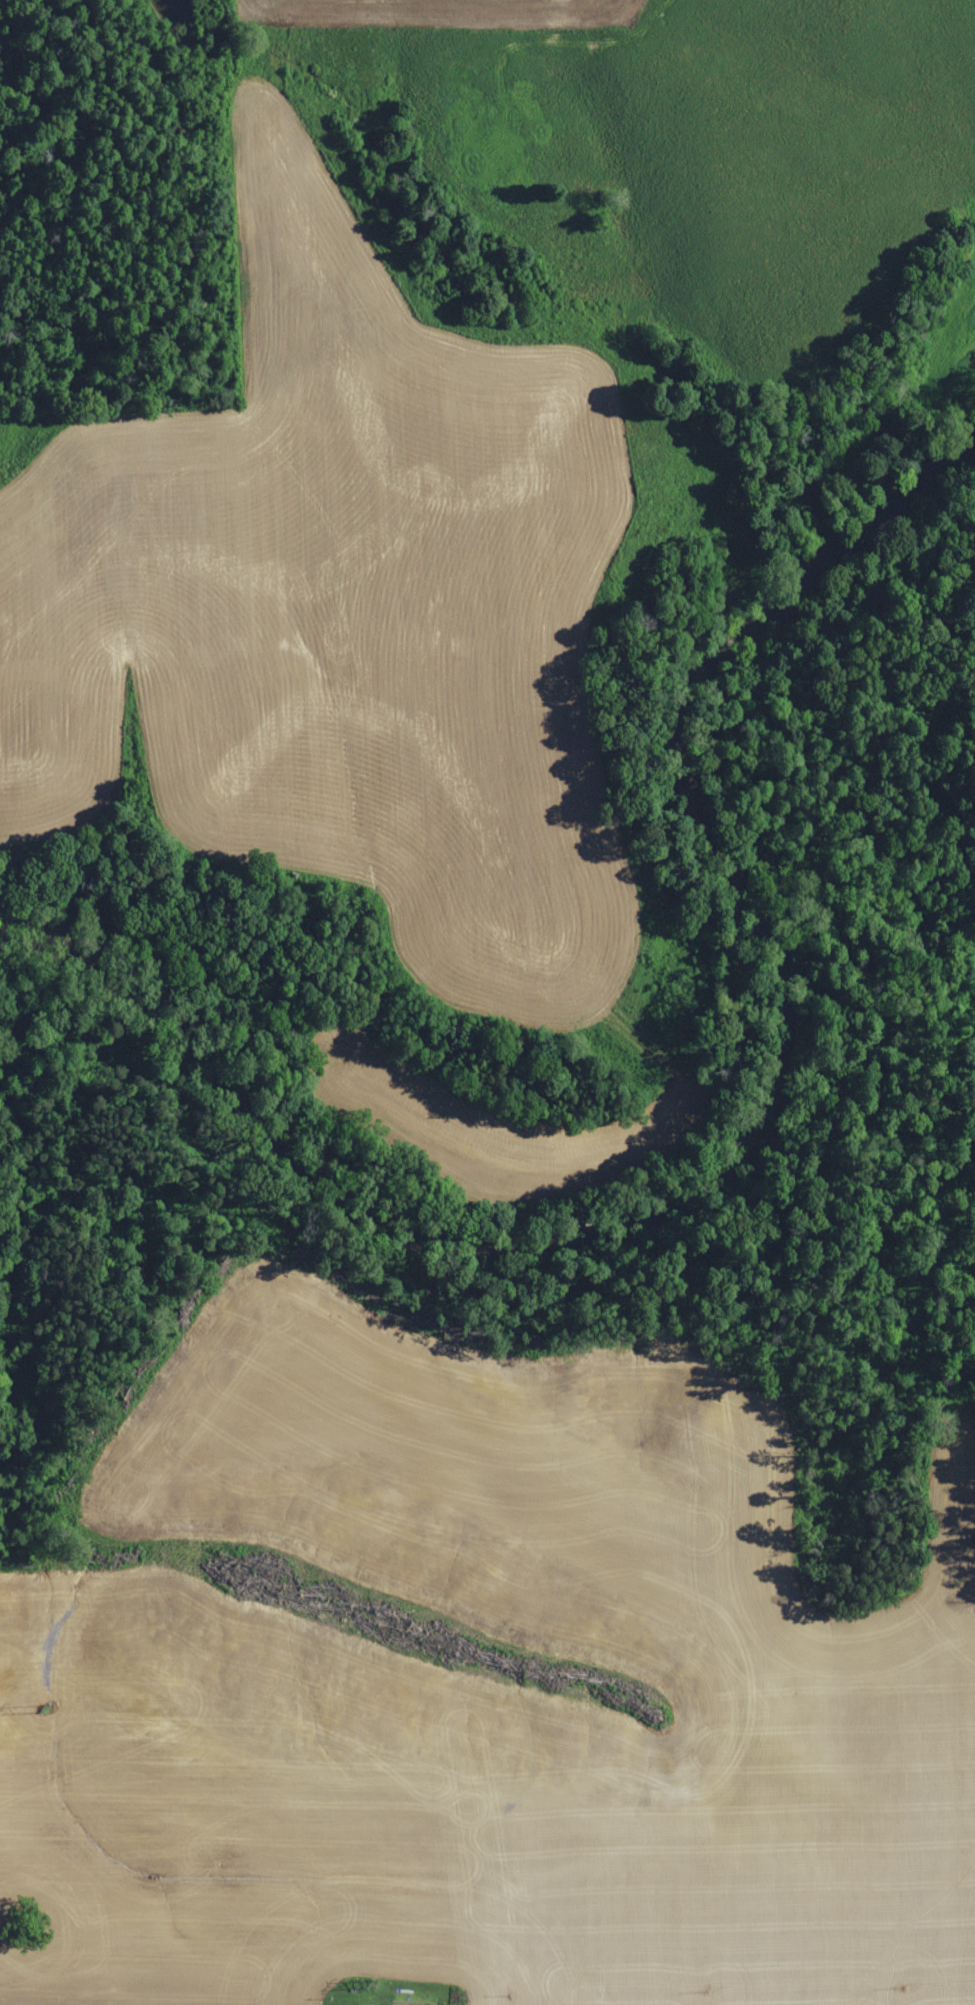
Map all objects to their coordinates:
river: (741, 1126)

